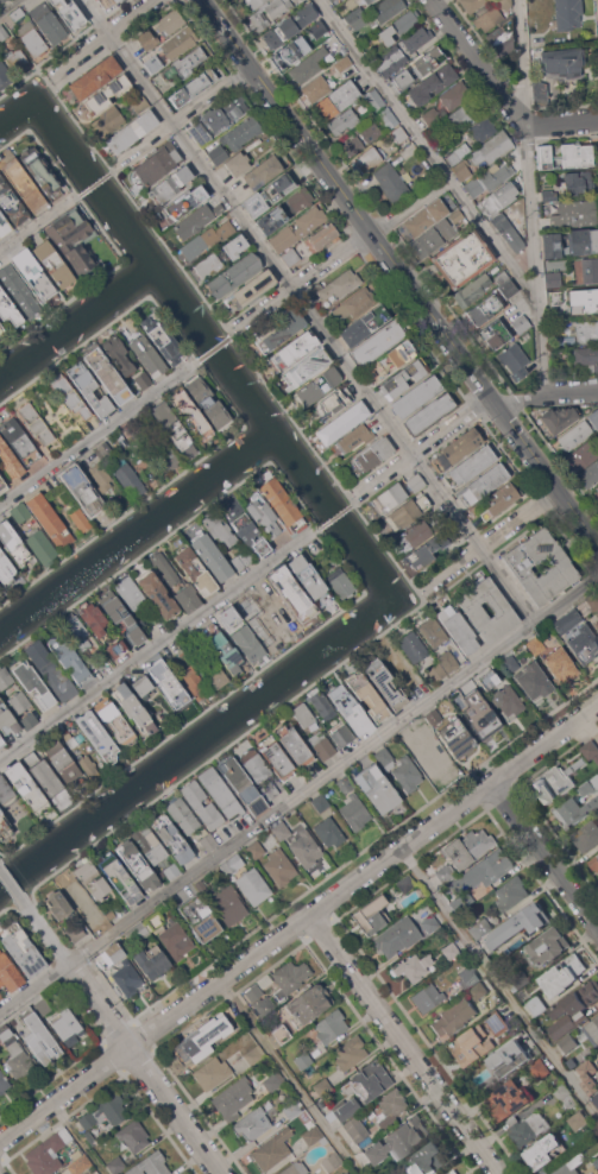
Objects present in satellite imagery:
building: (332, 0)
building: (2, 1)
building: (367, 1)
building: (107, 2)
building: (253, 4)
building: (505, 4)
building: (472, 5)
road: (8, 6)
building: (386, 10)
building: (271, 12)
building: (17, 14)
building: (70, 14)
building: (567, 14)
building: (487, 18)
building: (357, 19)
building: (171, 20)
building: (407, 21)
building: (48, 23)
building: (289, 26)
building: (316, 29)
building: (4, 32)
road: (103, 36)
building: (386, 36)
building: (502, 36)
building: (562, 38)
building: (31, 39)
building: (146, 39)
building: (415, 40)
building: (178, 43)
building: (292, 50)
building: (342, 50)
building: (17, 59)
building: (429, 61)
building: (189, 62)
building: (390, 62)
road: (480, 62)
building: (562, 62)
building: (344, 63)
building: (153, 65)
building: (308, 65)
building: (4, 75)
building: (95, 77)
building: (402, 78)
road: (18, 80)
road: (55, 80)
building: (433, 83)
building: (194, 87)
building: (316, 88)
road: (210, 93)
building: (540, 93)
building: (455, 95)
building: (105, 96)
building: (374, 100)
building: (335, 102)
building: (140, 105)
building: (235, 106)
building: (430, 116)
building: (216, 118)
building: (459, 118)
building: (348, 119)
building: (388, 119)
road: (562, 121)
building: (107, 122)
building: (483, 128)
building: (132, 132)
building: (243, 132)
building: (370, 132)
building: (200, 133)
road: (12, 137)
building: (401, 137)
road: (144, 143)
building: (353, 146)
road: (423, 147)
building: (492, 147)
building: (257, 149)
building: (457, 153)
building: (218, 156)
building: (566, 156)
building: (369, 158)
building: (237, 164)
building: (157, 165)
road: (114, 166)
building: (462, 169)
building: (40, 171)
building: (264, 171)
building: (489, 178)
building: (391, 181)
building: (577, 182)
road: (95, 183)
building: (170, 184)
building: (24, 185)
road: (74, 191)
building: (267, 195)
building: (548, 195)
road: (530, 198)
building: (301, 200)
building: (497, 201)
building: (183, 203)
building: (12, 206)
building: (574, 214)
building: (426, 217)
building: (196, 220)
building: (271, 220)
building: (545, 221)
road: (38, 223)
building: (4, 226)
building: (297, 229)
road: (369, 233)
building: (508, 233)
building: (436, 235)
building: (323, 236)
building: (209, 238)
building: (73, 239)
building: (584, 240)
building: (552, 245)
building: (235, 246)
building: (291, 257)
building: (462, 257)
building: (53, 264)
building: (208, 265)
building: (244, 269)
building: (590, 270)
road: (399, 273)
building: (37, 276)
building: (502, 277)
building: (553, 279)
building: (222, 285)
building: (338, 286)
building: (508, 288)
building: (472, 290)
building: (19, 291)
building: (250, 291)
building: (554, 297)
building: (583, 299)
road: (61, 303)
building: (354, 304)
road: (264, 308)
building: (486, 309)
building: (8, 310)
road: (307, 310)
building: (521, 323)
building: (364, 324)
building: (1, 329)
building: (278, 329)
building: (586, 330)
road: (234, 332)
building: (496, 334)
building: (163, 339)
building: (378, 342)
road: (73, 347)
road: (214, 348)
building: (292, 349)
building: (401, 353)
building: (119, 355)
building: (147, 355)
building: (586, 358)
road: (194, 359)
building: (515, 361)
road: (254, 366)
building: (308, 367)
building: (374, 371)
building: (107, 375)
building: (404, 378)
building: (143, 380)
building: (317, 386)
building: (89, 389)
building: (67, 393)
building: (416, 396)
road: (547, 396)
building: (207, 402)
building: (333, 403)
building: (190, 412)
building: (429, 414)
building: (558, 417)
building: (593, 418)
building: (36, 423)
building: (139, 423)
building: (344, 423)
building: (171, 424)
road: (453, 424)
road: (97, 433)
building: (575, 435)
building: (120, 436)
building: (353, 437)
building: (19, 441)
building: (458, 448)
building: (105, 449)
building: (376, 454)
building: (168, 457)
building: (581, 457)
building: (10, 460)
building: (470, 465)
building: (590, 474)
building: (101, 476)
road: (384, 476)
building: (130, 479)
building: (416, 484)
building: (484, 484)
building: (2, 485)
building: (597, 490)
building: (501, 498)
building: (389, 499)
road: (354, 500)
building: (90, 501)
building: (283, 505)
building: (233, 507)
building: (20, 511)
building: (407, 512)
road: (121, 513)
building: (264, 516)
road: (335, 516)
building: (50, 519)
building: (81, 519)
road: (315, 525)
building: (219, 528)
building: (418, 531)
building: (250, 534)
road: (487, 539)
building: (13, 542)
building: (433, 545)
building: (42, 547)
building: (308, 554)
building: (212, 555)
road: (133, 557)
building: (241, 560)
building: (520, 566)
building: (165, 568)
building: (6, 569)
building: (195, 569)
building: (309, 581)
building: (341, 582)
building: (264, 585)
building: (0, 587)
road: (418, 591)
building: (131, 593)
building: (157, 593)
building: (188, 598)
building: (588, 604)
building: (501, 607)
building: (228, 616)
building: (121, 617)
building: (94, 619)
building: (283, 619)
building: (566, 621)
building: (597, 625)
building: (457, 627)
building: (76, 630)
building: (432, 630)
building: (270, 636)
road: (158, 642)
building: (200, 642)
building: (248, 644)
building: (584, 644)
building: (411, 645)
building: (537, 645)
building: (117, 649)
building: (224, 649)
building: (70, 659)
building: (448, 661)
building: (560, 663)
building: (511, 664)
building: (51, 670)
building: (438, 671)
building: (5, 677)
building: (218, 678)
building: (489, 678)
building: (169, 682)
building: (533, 682)
building: (33, 683)
building: (385, 683)
building: (144, 687)
building: (197, 687)
building: (473, 692)
building: (366, 695)
building: (454, 695)
building: (19, 701)
building: (508, 701)
building: (323, 706)
building: (134, 709)
building: (348, 709)
building: (303, 715)
building: (434, 717)
building: (481, 719)
building: (7, 720)
building: (30, 720)
building: (115, 722)
road: (183, 725)
road: (590, 727)
building: (422, 728)
building: (97, 736)
building: (341, 736)
building: (78, 737)
building: (458, 738)
building: (1, 741)
building: (322, 745)
building: (295, 746)
building: (590, 750)
building: (433, 756)
building: (277, 757)
building: (384, 757)
building: (62, 759)
road: (204, 759)
building: (90, 768)
building: (257, 768)
building: (407, 775)
building: (49, 779)
building: (553, 783)
building: (243, 785)
building: (346, 785)
building: (26, 787)
building: (590, 787)
building: (377, 788)
building: (269, 790)
building: (6, 793)
building: (220, 793)
road: (298, 793)
building: (321, 802)
building: (202, 804)
building: (355, 812)
building: (575, 812)
building: (184, 816)
building: (4, 826)
building: (282, 832)
building: (328, 832)
building: (586, 837)
building: (172, 839)
building: (149, 842)
building: (209, 842)
building: (306, 848)
building: (468, 848)
building: (256, 850)
road: (543, 856)
building: (594, 863)
building: (138, 865)
building: (232, 865)
building: (281, 867)
building: (489, 869)
building: (172, 871)
building: (445, 873)
road: (363, 875)
building: (120, 878)
building: (94, 879)
building: (407, 884)
building: (253, 885)
building: (201, 886)
road: (13, 888)
building: (75, 890)
building: (511, 894)
building: (461, 901)
building: (58, 903)
building: (228, 904)
building: (111, 915)
building: (94, 916)
building: (371, 916)
building: (536, 916)
building: (199, 919)
building: (153, 921)
building: (432, 924)
building: (481, 928)
building: (76, 933)
building: (137, 933)
road: (46, 935)
building: (398, 938)
building: (175, 940)
building: (547, 946)
building: (24, 949)
building: (499, 951)
building: (452, 952)
building: (152, 961)
building: (413, 967)
building: (120, 968)
building: (566, 972)
building: (10, 973)
building: (468, 977)
building: (290, 978)
building: (520, 980)
road: (499, 983)
building: (253, 991)
building: (479, 991)
building: (1, 996)
building: (427, 997)
building: (546, 997)
building: (309, 1004)
building: (43, 1005)
building: (264, 1005)
building: (535, 1005)
building: (573, 1008)
building: (455, 1016)
building: (220, 1023)
building: (498, 1024)
building: (332, 1025)
building: (67, 1027)
building: (592, 1030)
building: (282, 1034)
building: (40, 1037)
road: (403, 1043)
building: (568, 1043)
building: (472, 1044)
building: (194, 1048)
building: (315, 1053)
building: (351, 1053)
building: (254, 1054)
building: (15, 1058)
building: (510, 1059)
building: (303, 1060)
road: (144, 1068)
building: (539, 1069)
building: (213, 1073)
building: (588, 1075)
road: (289, 1077)
building: (273, 1080)
building: (4, 1081)
building: (369, 1081)
building: (323, 1087)
road: (63, 1093)
building: (597, 1096)
building: (566, 1097)
building: (233, 1099)
building: (510, 1099)
building: (394, 1103)
building: (291, 1109)
building: (347, 1109)
building: (106, 1113)
building: (579, 1121)
building: (252, 1123)
building: (527, 1128)
building: (357, 1129)
building: (89, 1135)
building: (133, 1135)
building: (311, 1135)
road: (80, 1137)
building: (399, 1140)
building: (273, 1149)
building: (543, 1151)
building: (45, 1155)
building: (427, 1160)
building: (332, 1161)
building: (596, 1161)
building: (80, 1164)
building: (117, 1164)
building: (150, 1164)
building: (571, 1164)
building: (295, 1168)
building: (452, 1172)
building: (388, 1173)

